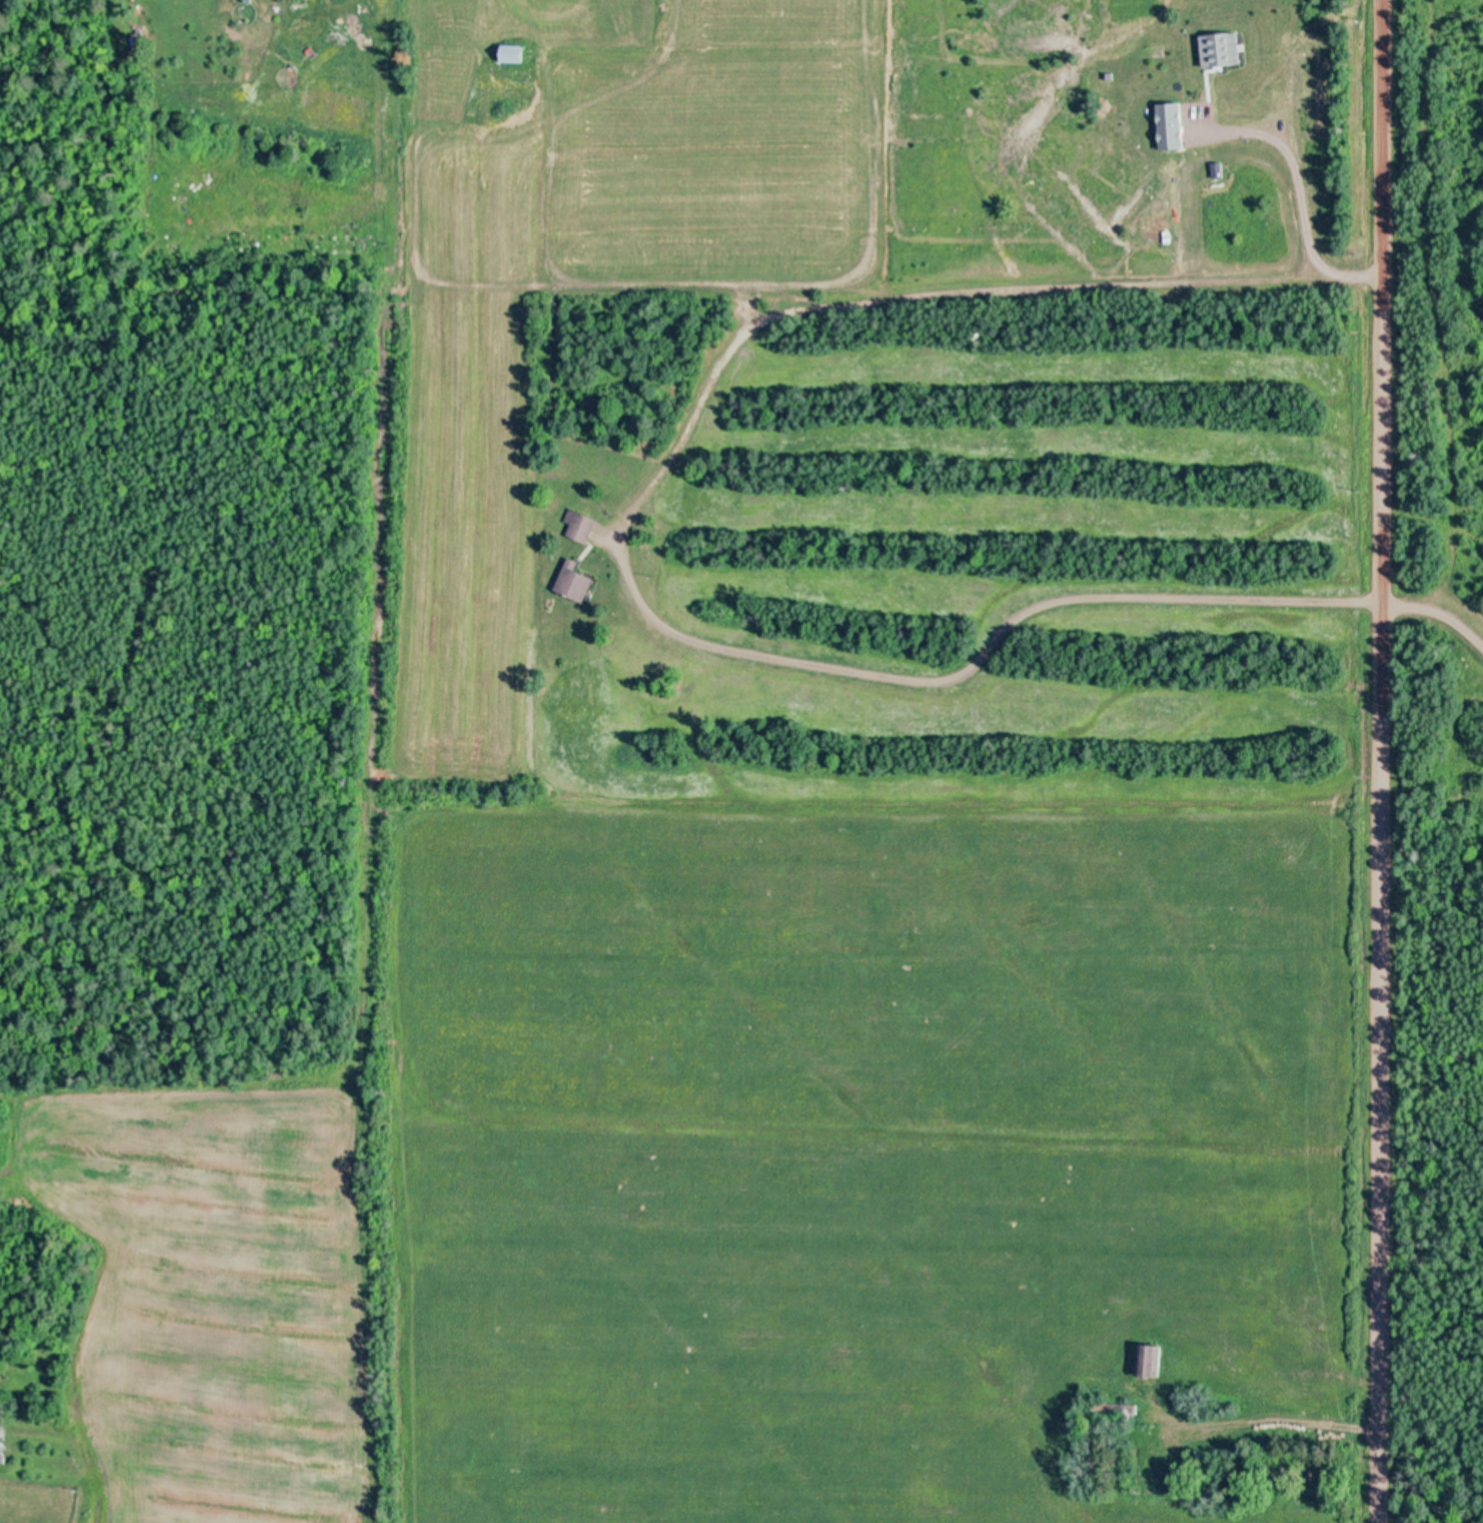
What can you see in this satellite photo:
building: (1222, 49)
building: (512, 52)
building: (1172, 125)
building: (1167, 184)
road: (927, 427)
building: (581, 524)
building: (574, 581)
road: (1380, 761)
building: (1148, 1359)
building: (1116, 1407)

